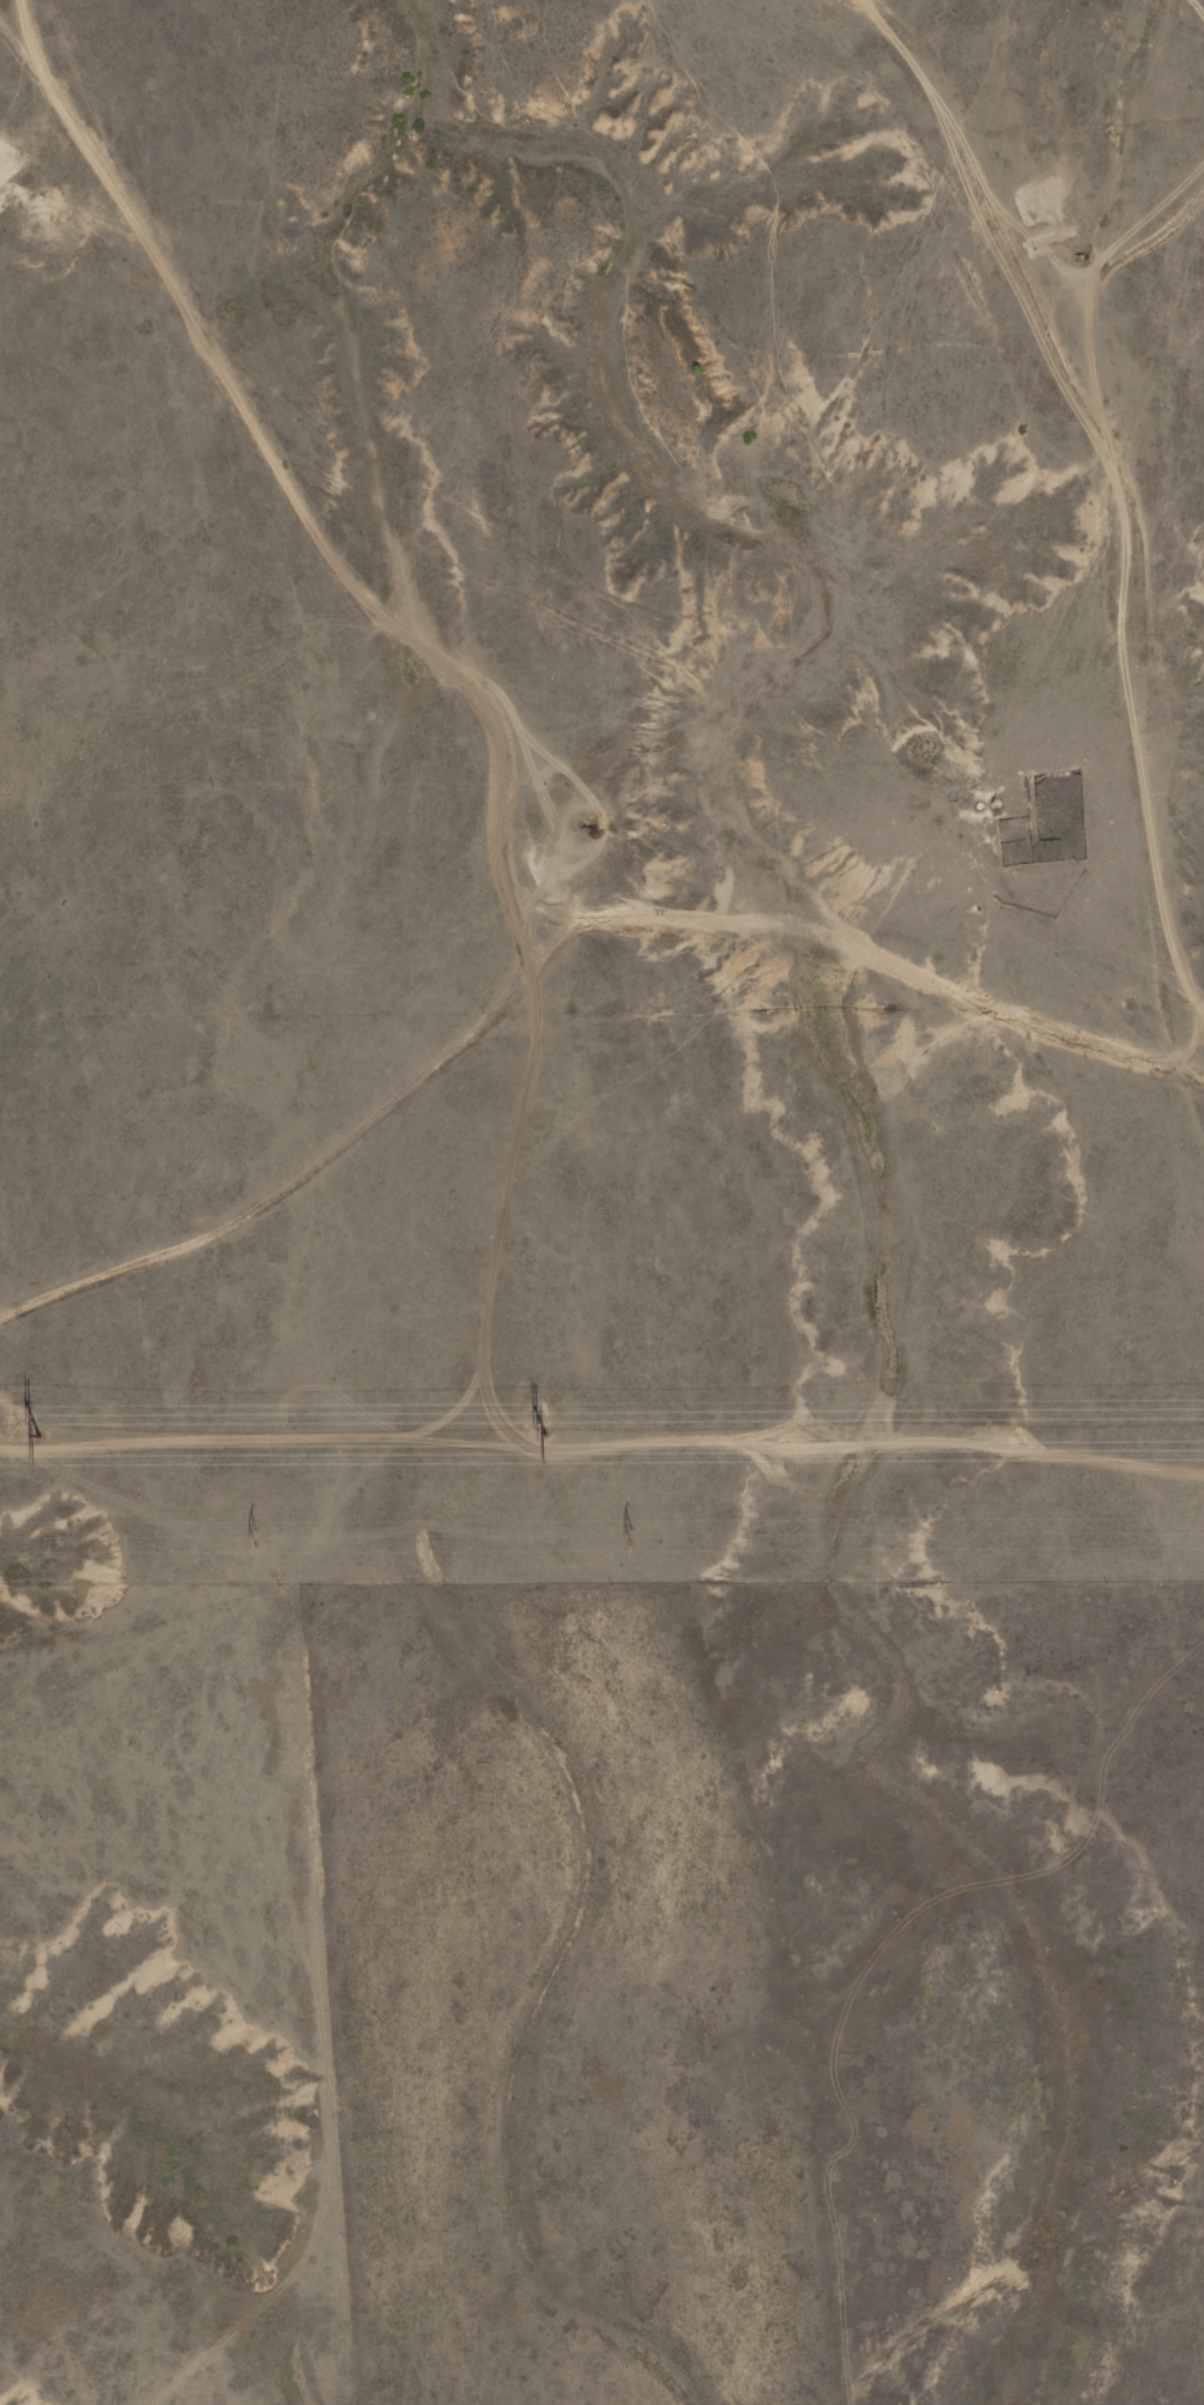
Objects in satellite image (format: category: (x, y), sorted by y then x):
road: (1119, 424)
road: (307, 454)
road: (562, 918)
power tower: (543, 1432)
power tower: (38, 1434)
power tower: (627, 1535)
power tower: (253, 1536)

